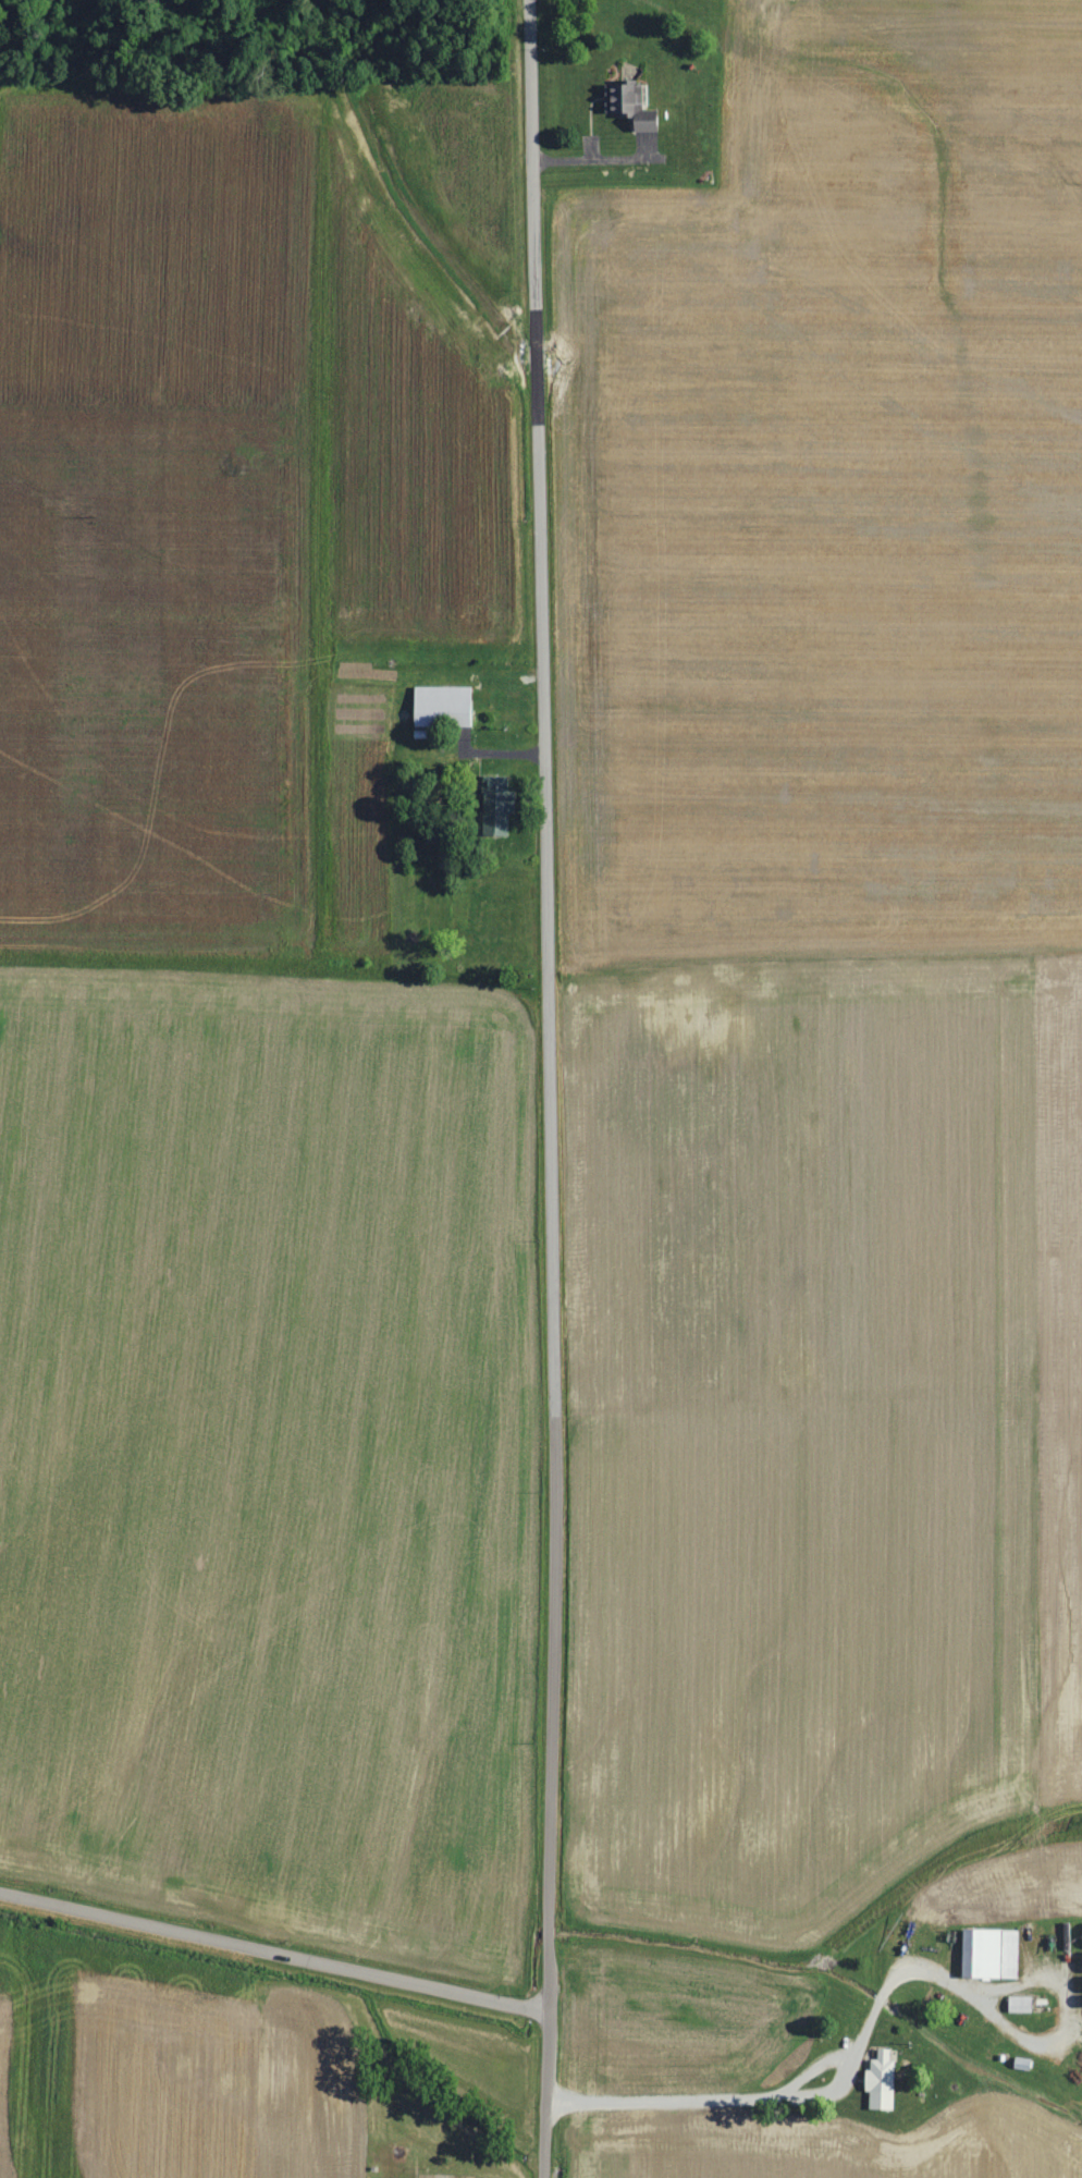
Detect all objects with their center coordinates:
building: (446, 705)
road: (546, 723)
building: (500, 804)
road: (551, 1812)
road: (274, 1953)
building: (993, 1953)
building: (1022, 2004)
road: (1056, 2039)
building: (884, 2081)
road: (799, 2106)

